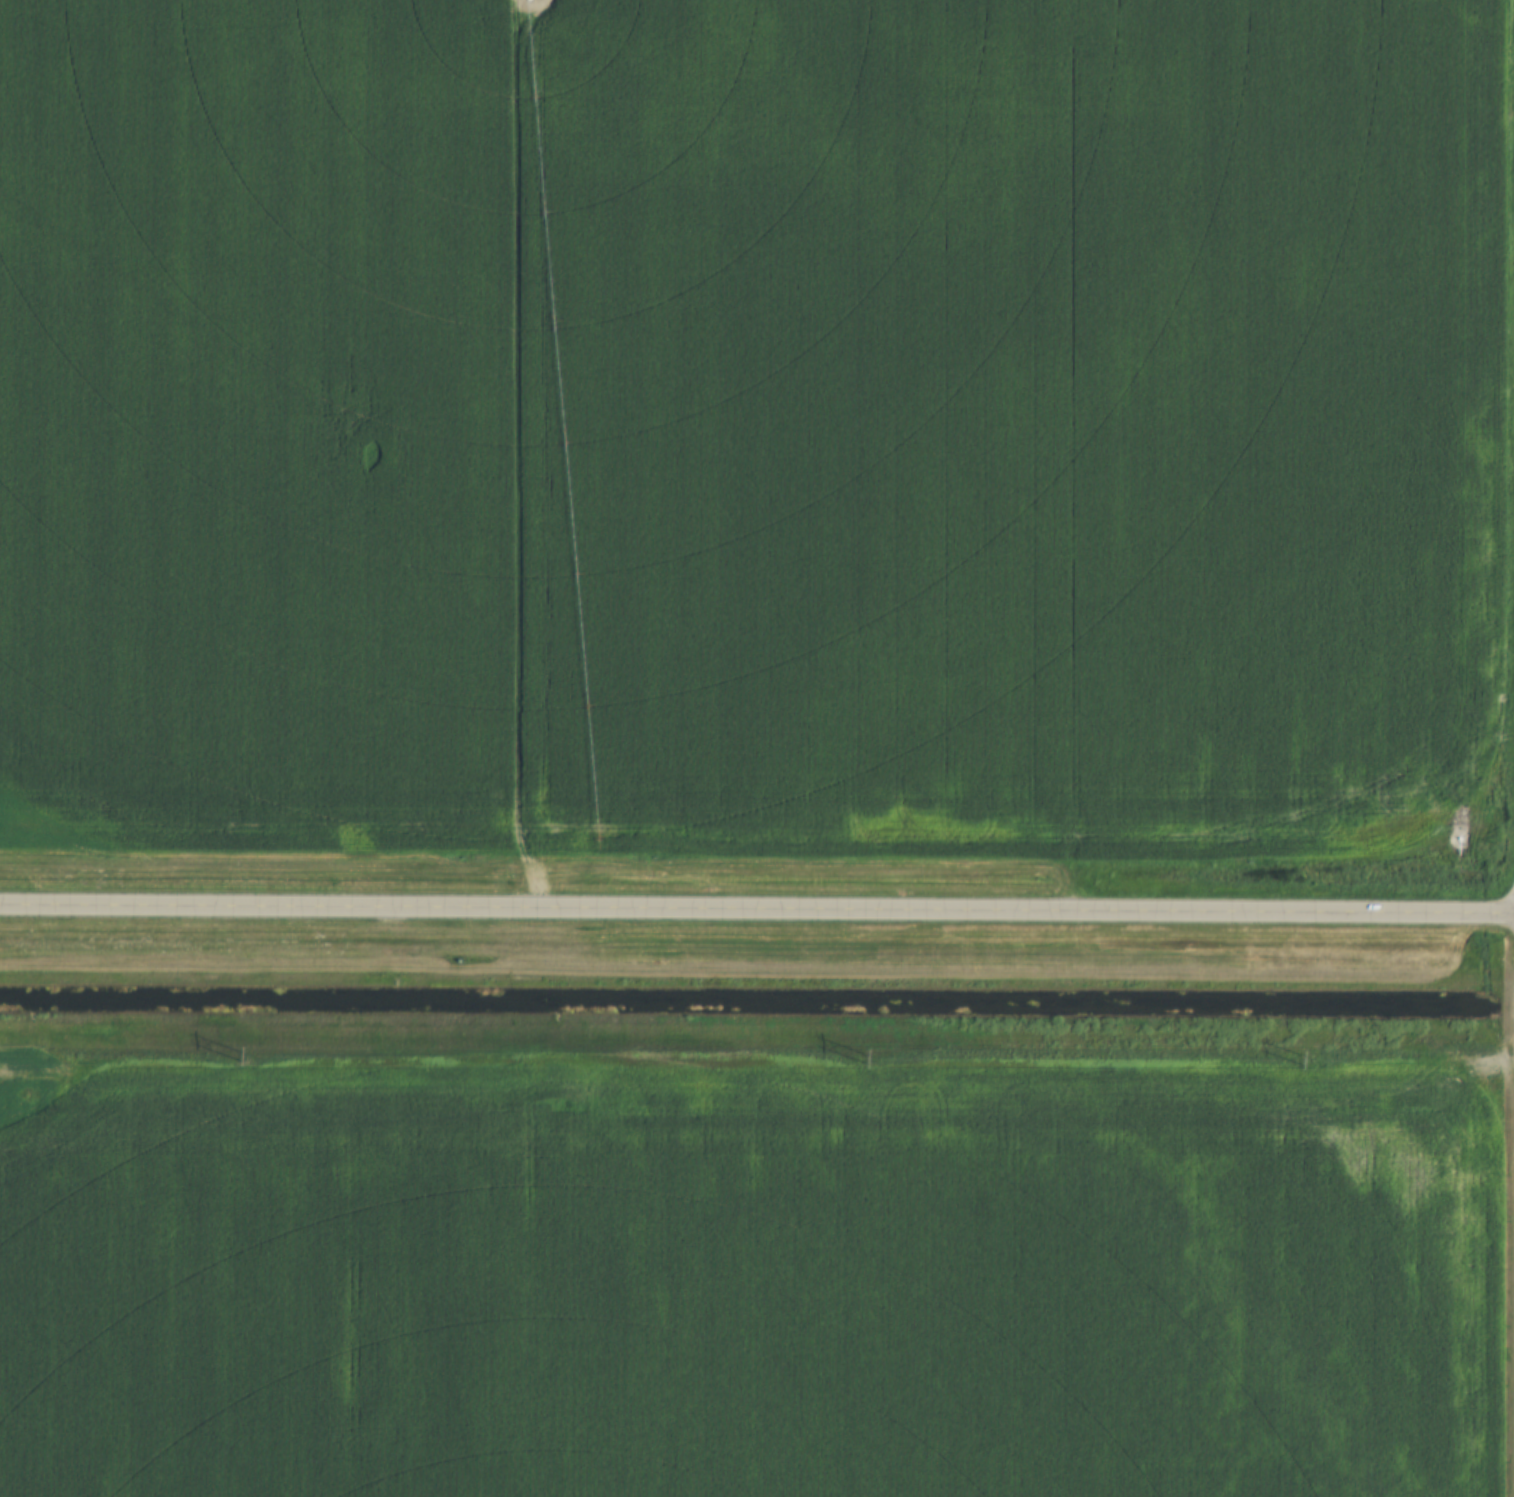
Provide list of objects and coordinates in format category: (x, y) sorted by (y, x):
road: (757, 911)
power tower: (387, 1036)
power tower: (922, 1040)
power tower: (1461, 1046)

